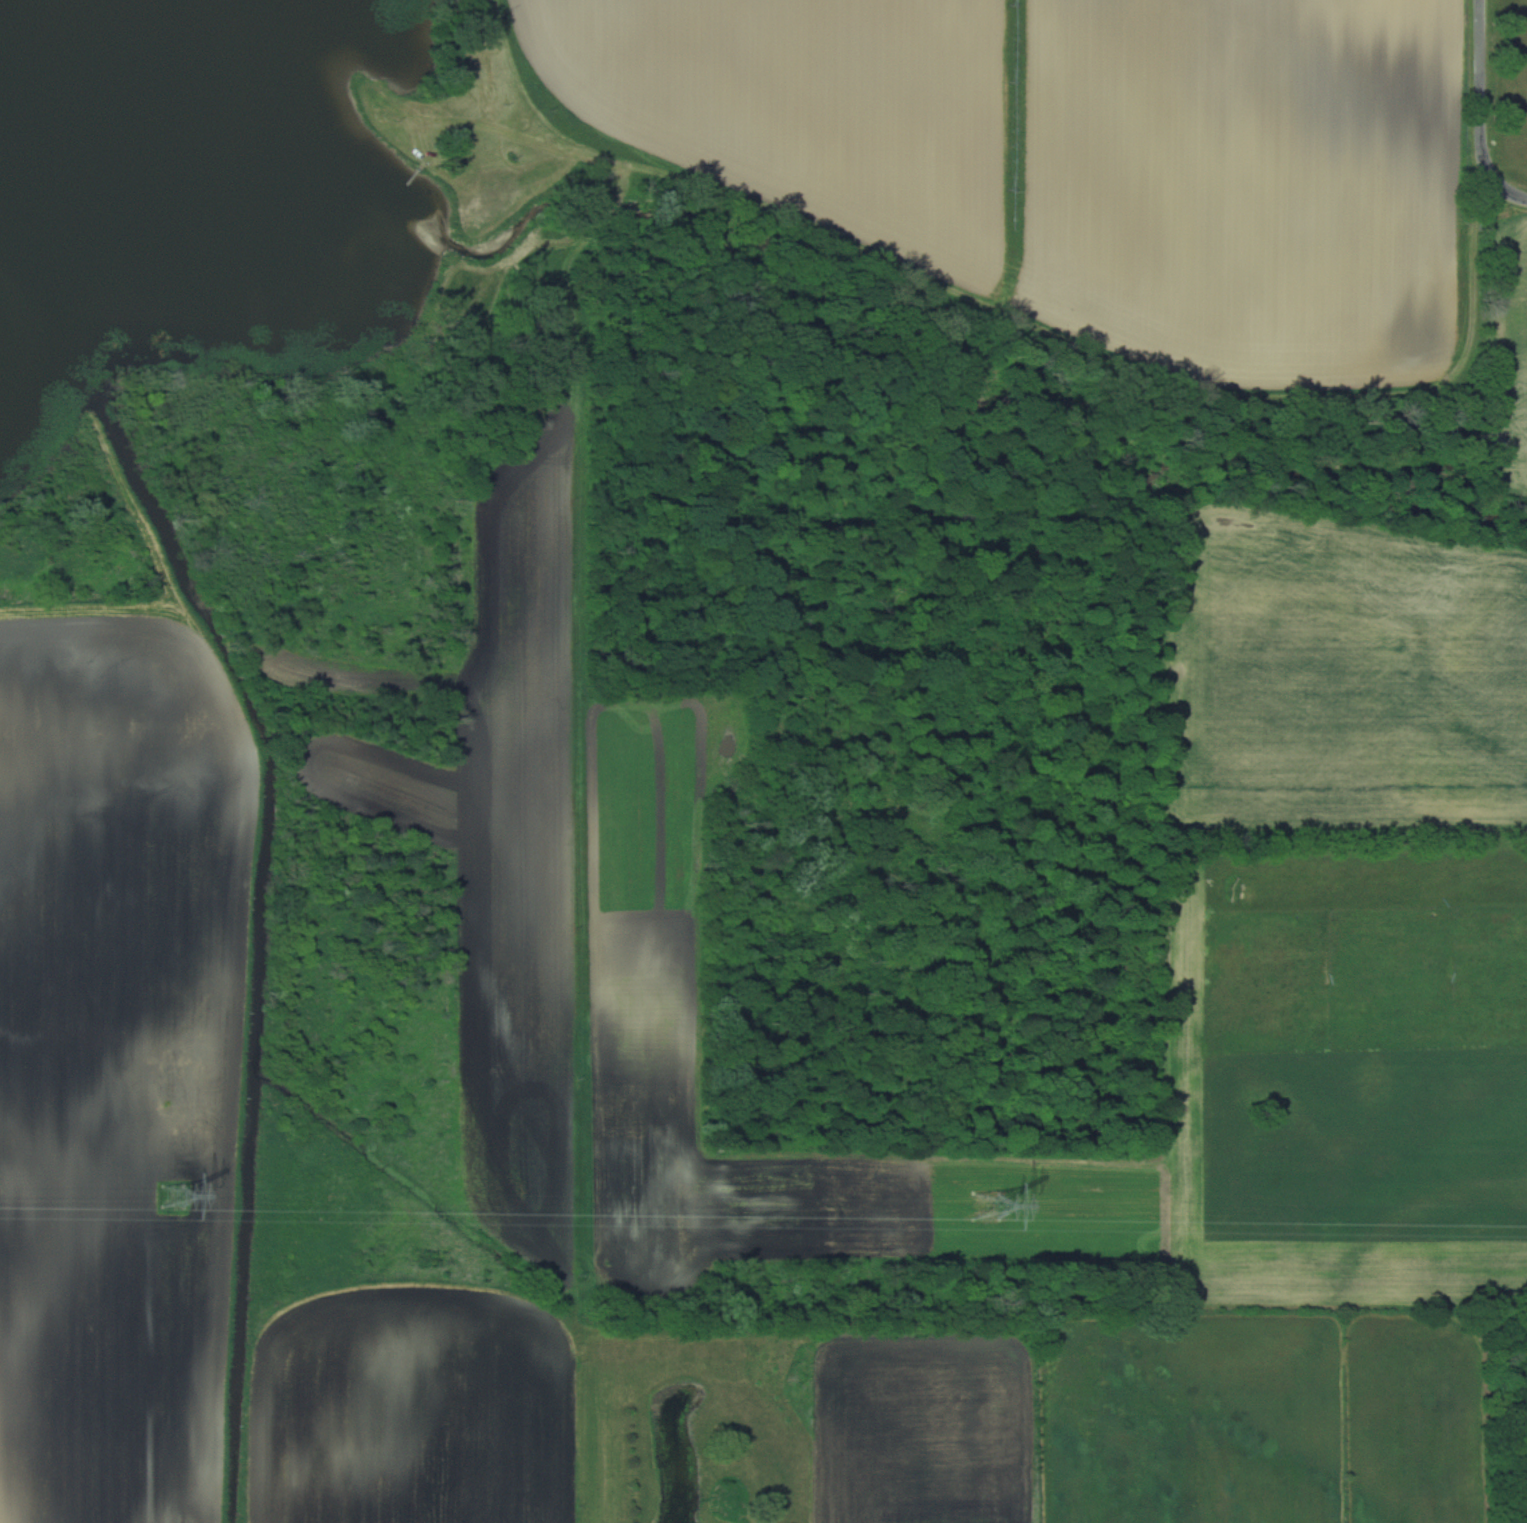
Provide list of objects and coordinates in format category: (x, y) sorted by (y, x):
road: (1483, 80)
road: (1502, 183)
building: (465, 221)
power tower: (176, 1195)
power tower: (988, 1206)

